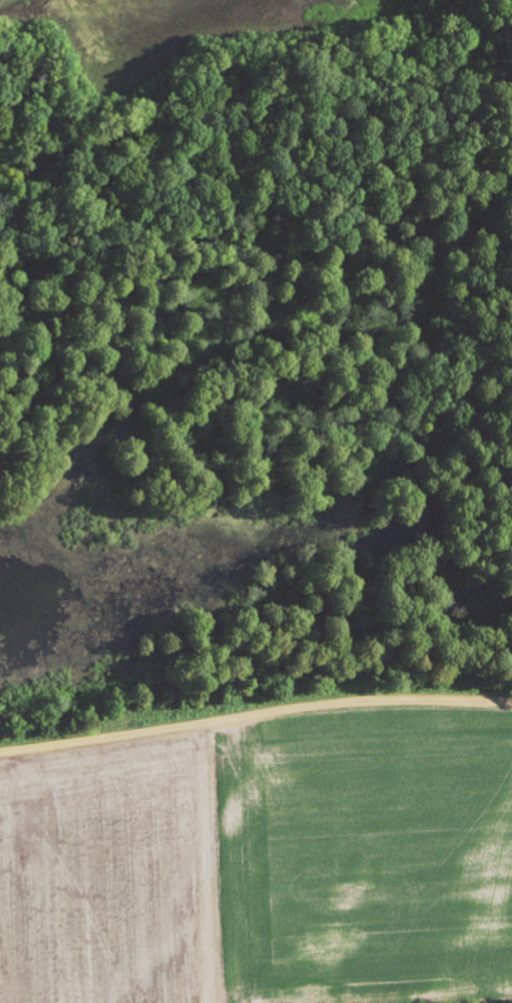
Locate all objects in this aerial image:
road: (255, 715)

